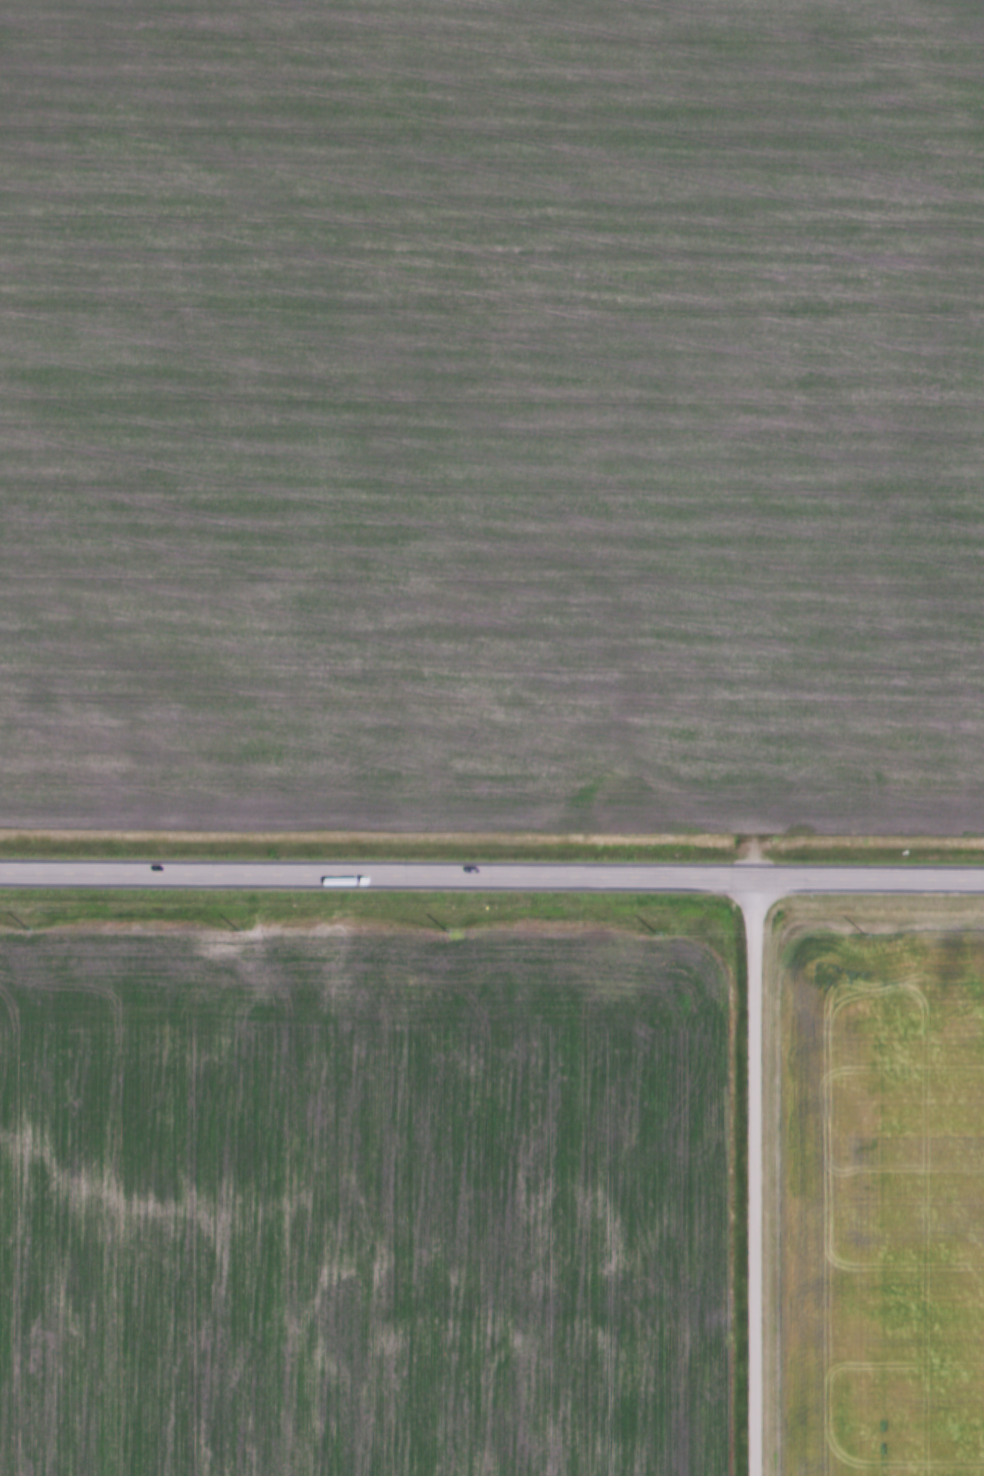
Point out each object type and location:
road: (492, 877)
road: (752, 1177)
crop: (366, 1202)
crop: (881, 1203)

